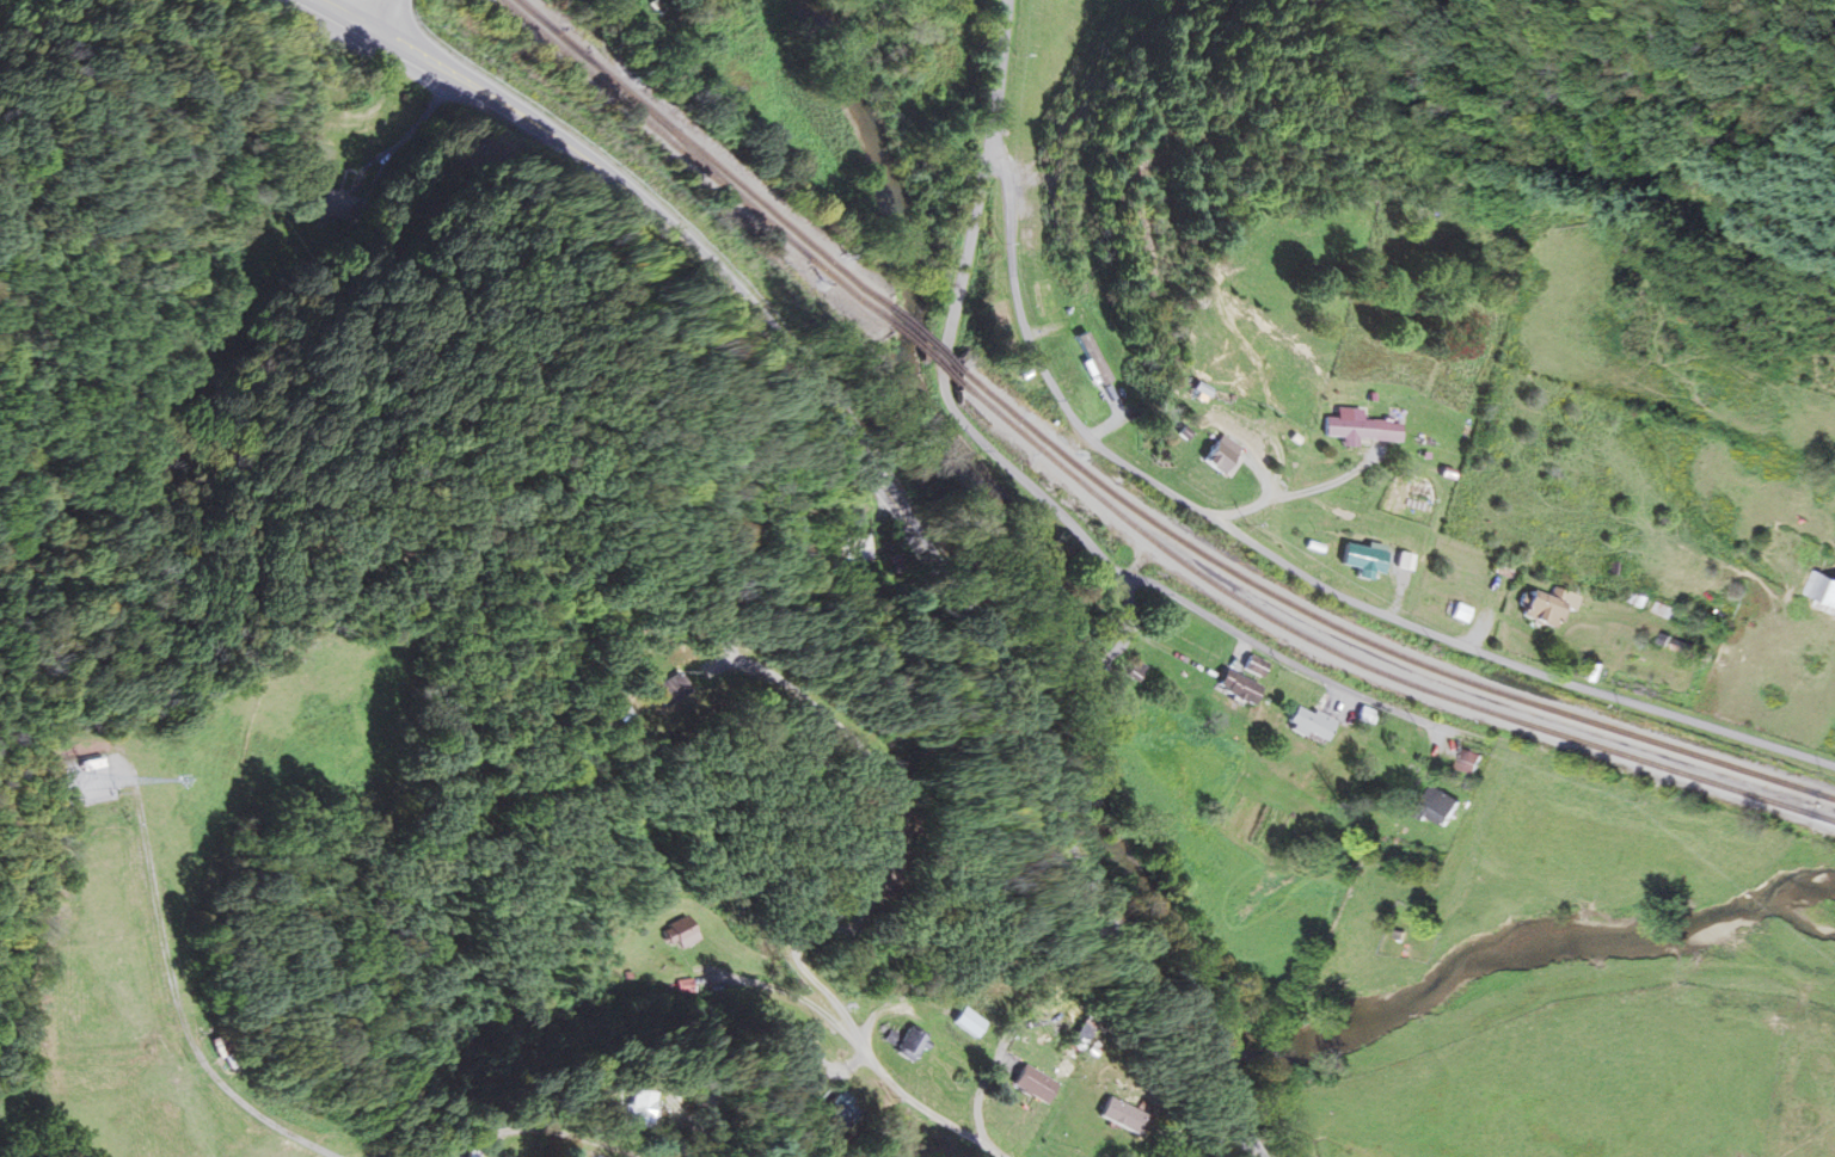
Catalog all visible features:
road: (385, 13)
road: (590, 19)
road: (413, 129)
railway: (701, 149)
railway: (691, 158)
building: (338, 205)
railway: (922, 337)
railway: (920, 350)
building: (1107, 383)
road: (958, 416)
building: (1363, 429)
building: (1223, 453)
road: (1295, 493)
road: (888, 494)
building: (852, 548)
building: (1368, 556)
road: (1285, 564)
building: (1824, 589)
building: (1553, 604)
building: (1463, 611)
railway: (1370, 640)
road: (1278, 653)
railway: (1365, 664)
building: (1257, 665)
building: (1240, 685)
building: (679, 687)
building: (1311, 722)
building: (1473, 761)
building: (1441, 806)
road: (855, 922)
building: (680, 933)
building: (970, 1022)
building: (907, 1042)
road: (68, 1052)
road: (998, 1069)
building: (1036, 1083)
building: (648, 1107)
building: (842, 1109)
building: (1125, 1114)
road: (691, 1115)
road: (548, 1131)
building: (477, 1152)

